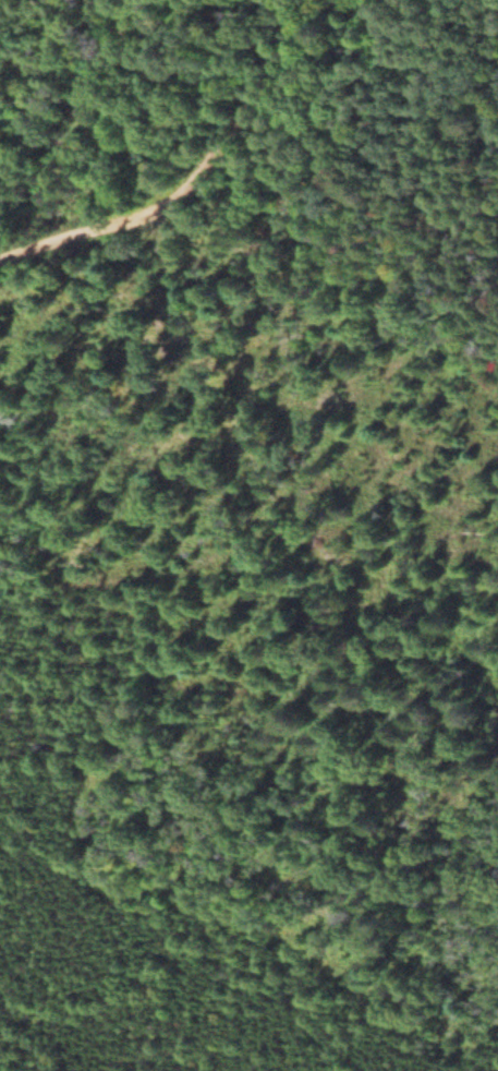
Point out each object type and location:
road: (231, 104)
road: (96, 228)
road: (235, 432)

